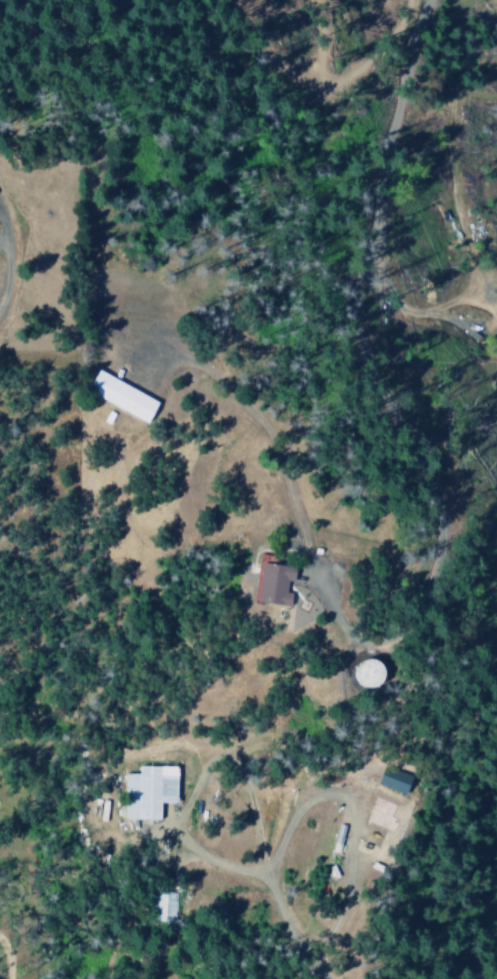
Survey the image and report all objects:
road: (2, 262)
road: (327, 334)
building: (116, 395)
building: (269, 584)
building: (359, 672)
building: (385, 780)
building: (143, 791)
road: (268, 870)
building: (163, 906)

